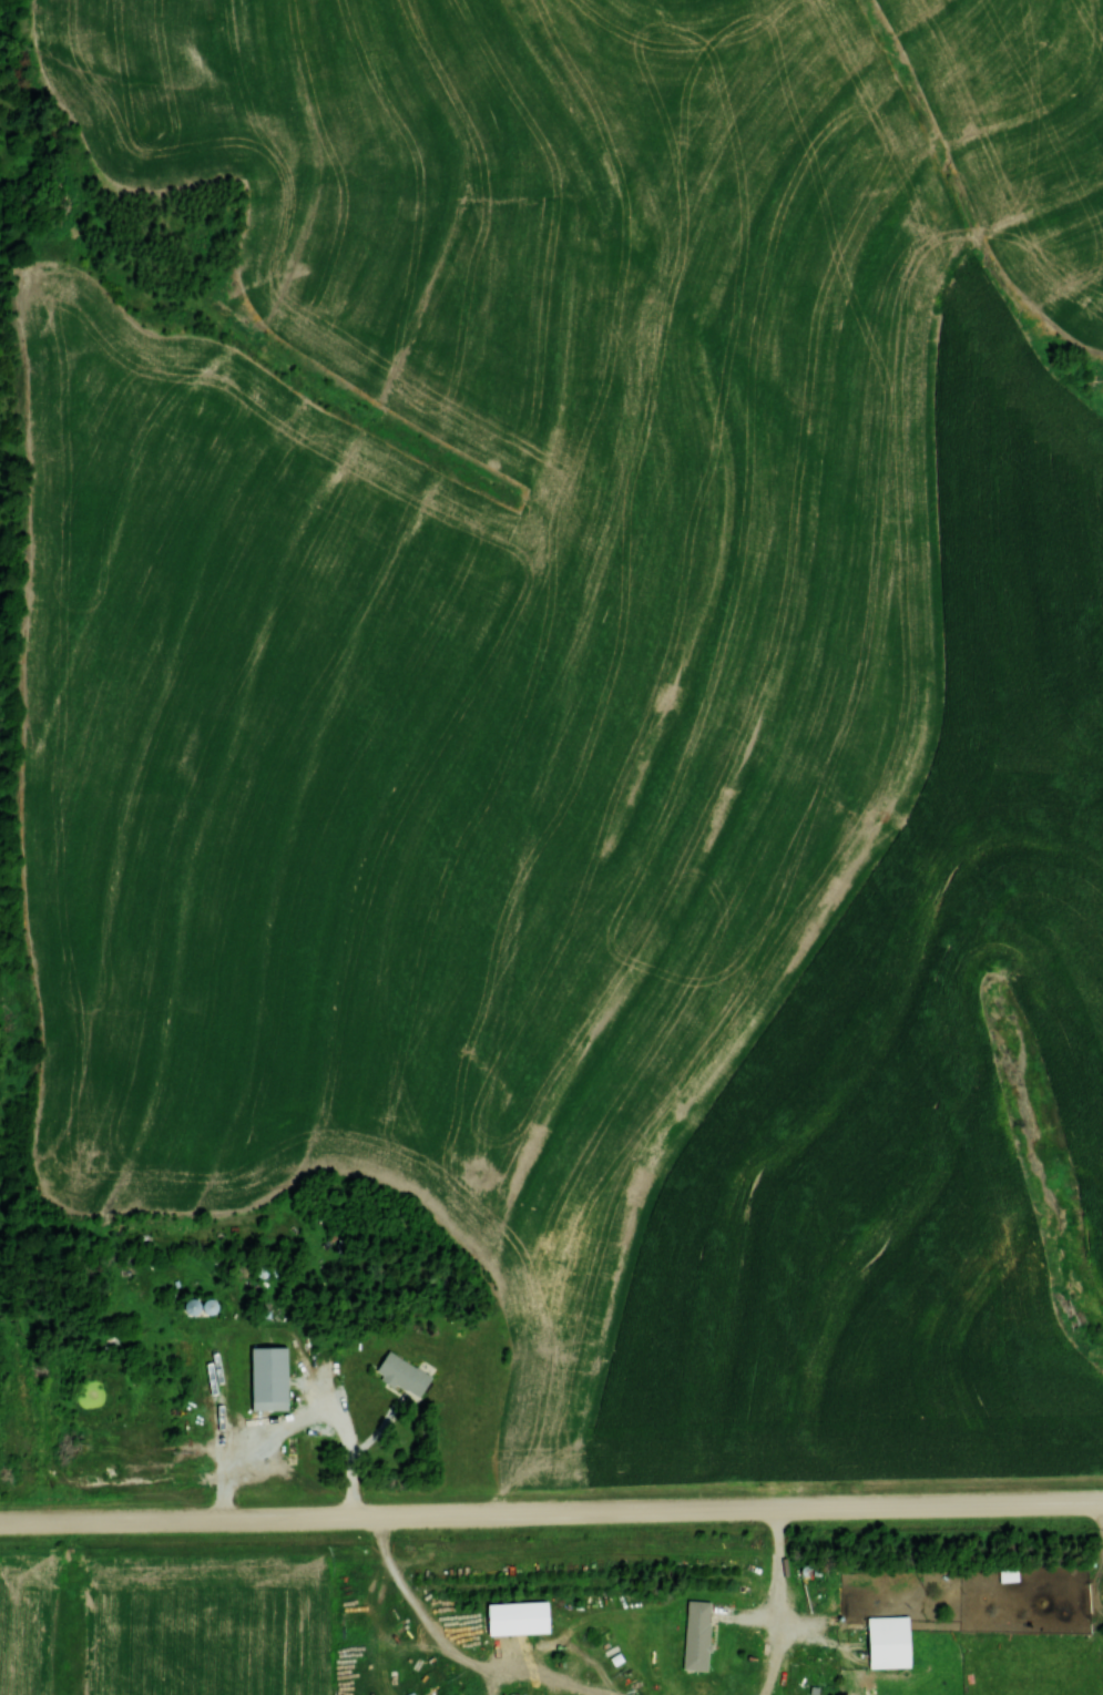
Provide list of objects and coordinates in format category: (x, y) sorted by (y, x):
building: (195, 1305)
building: (400, 1375)
building: (264, 1378)
road: (320, 1409)
building: (320, 1438)
road: (551, 1518)
road: (786, 1604)
building: (694, 1635)
building: (884, 1642)

